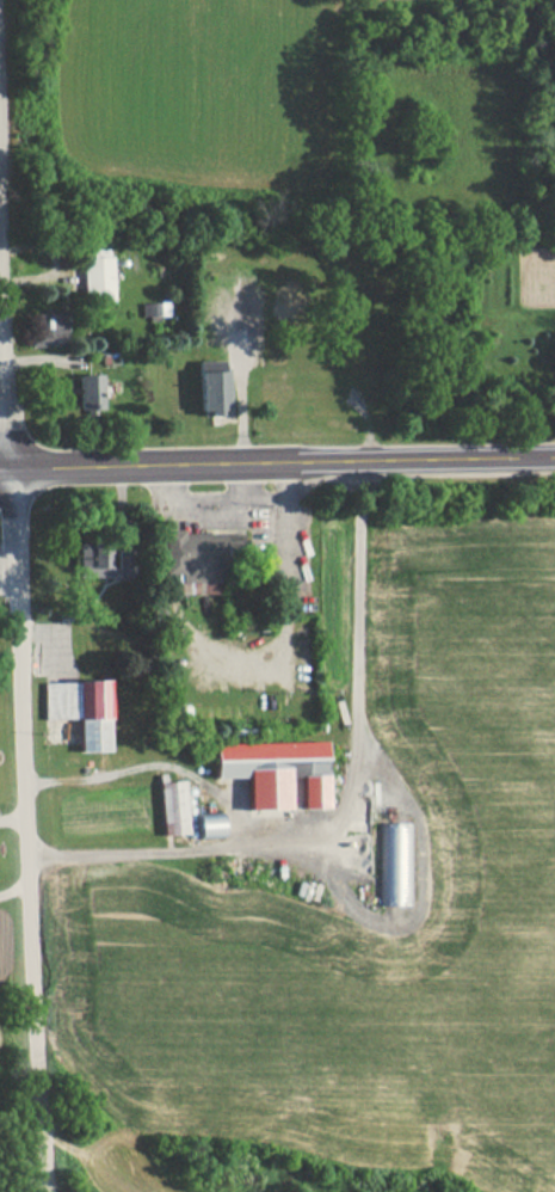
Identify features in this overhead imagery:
building: (95, 278)
parking lot: (234, 318)
building: (50, 324)
road: (4, 344)
road: (239, 373)
building: (212, 388)
building: (88, 393)
road: (277, 463)
road: (202, 509)
building: (91, 560)
building: (186, 560)
road: (288, 597)
building: (74, 709)
building: (270, 773)
road: (338, 807)
road: (12, 809)
building: (167, 809)
building: (202, 825)
road: (25, 830)
road: (13, 881)
road: (417, 883)

